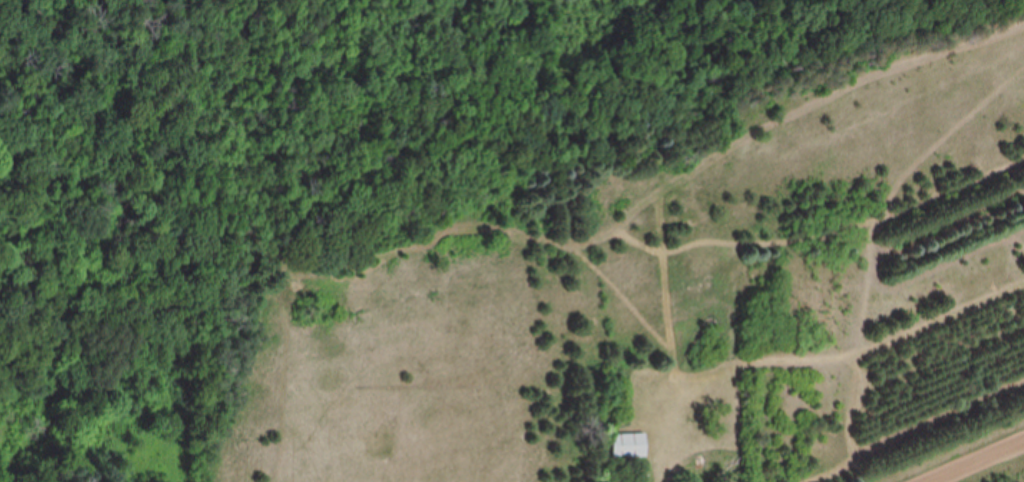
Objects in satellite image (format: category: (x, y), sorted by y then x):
park: (79, 218)
building: (627, 445)
road: (977, 461)

